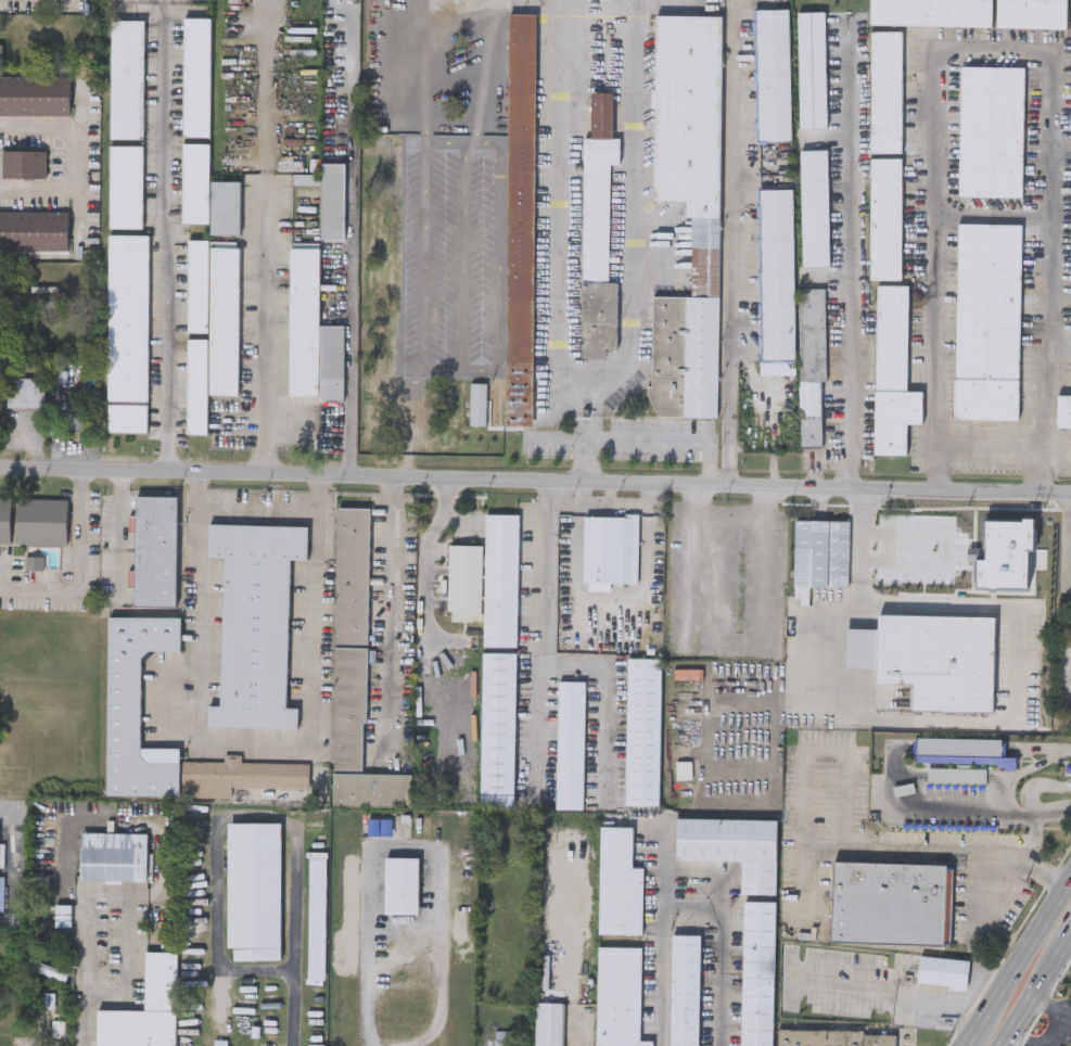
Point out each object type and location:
building: (929, 12)
building: (1030, 13)
building: (1, 50)
road: (994, 52)
building: (809, 68)
building: (770, 74)
building: (195, 76)
building: (126, 78)
building: (884, 90)
building: (35, 94)
building: (990, 129)
road: (29, 141)
road: (1061, 153)
building: (23, 163)
road: (60, 168)
building: (194, 182)
building: (125, 186)
road: (30, 192)
building: (328, 196)
road: (558, 202)
building: (225, 206)
road: (633, 206)
building: (687, 207)
building: (812, 207)
building: (520, 216)
building: (884, 217)
road: (993, 217)
building: (597, 229)
building: (34, 230)
road: (169, 233)
road: (266, 242)
road: (349, 243)
road: (854, 255)
road: (735, 256)
building: (775, 281)
building: (127, 316)
building: (224, 319)
building: (986, 319)
building: (304, 320)
building: (811, 333)
building: (196, 335)
building: (331, 361)
building: (891, 371)
building: (403, 387)
building: (24, 391)
building: (1063, 411)
building: (74, 413)
building: (809, 413)
building: (126, 416)
road: (595, 416)
road: (583, 433)
road: (558, 439)
road: (664, 439)
road: (990, 447)
road: (298, 462)
road: (535, 476)
road: (262, 508)
building: (4, 519)
building: (41, 521)
road: (729, 522)
building: (609, 547)
building: (154, 549)
building: (819, 551)
building: (940, 559)
road: (85, 566)
road: (426, 575)
building: (1012, 581)
road: (863, 588)
road: (609, 596)
road: (388, 613)
building: (254, 622)
road: (549, 627)
building: (349, 635)
building: (929, 656)
building: (498, 660)
building: (687, 673)
road: (1067, 677)
road: (604, 692)
building: (135, 707)
road: (933, 724)
building: (642, 730)
road: (254, 741)
building: (569, 743)
road: (827, 753)
building: (955, 775)
building: (238, 776)
building: (371, 789)
road: (982, 814)
road: (5, 817)
road: (222, 820)
road: (411, 846)
building: (731, 847)
building: (0, 850)
road: (941, 850)
building: (112, 856)
road: (803, 882)
building: (400, 883)
building: (617, 883)
building: (253, 890)
road: (128, 896)
building: (889, 903)
building: (316, 917)
road: (1070, 936)
road: (568, 940)
road: (661, 943)
road: (721, 946)
road: (1022, 961)
building: (756, 973)
building: (942, 973)
building: (684, 990)
road: (1034, 992)
building: (617, 997)
road: (888, 997)
road: (1053, 1002)
building: (144, 1009)
road: (292, 1009)
road: (88, 1021)
building: (547, 1024)
building: (834, 1037)
road: (971, 1042)
building: (54, 1043)

